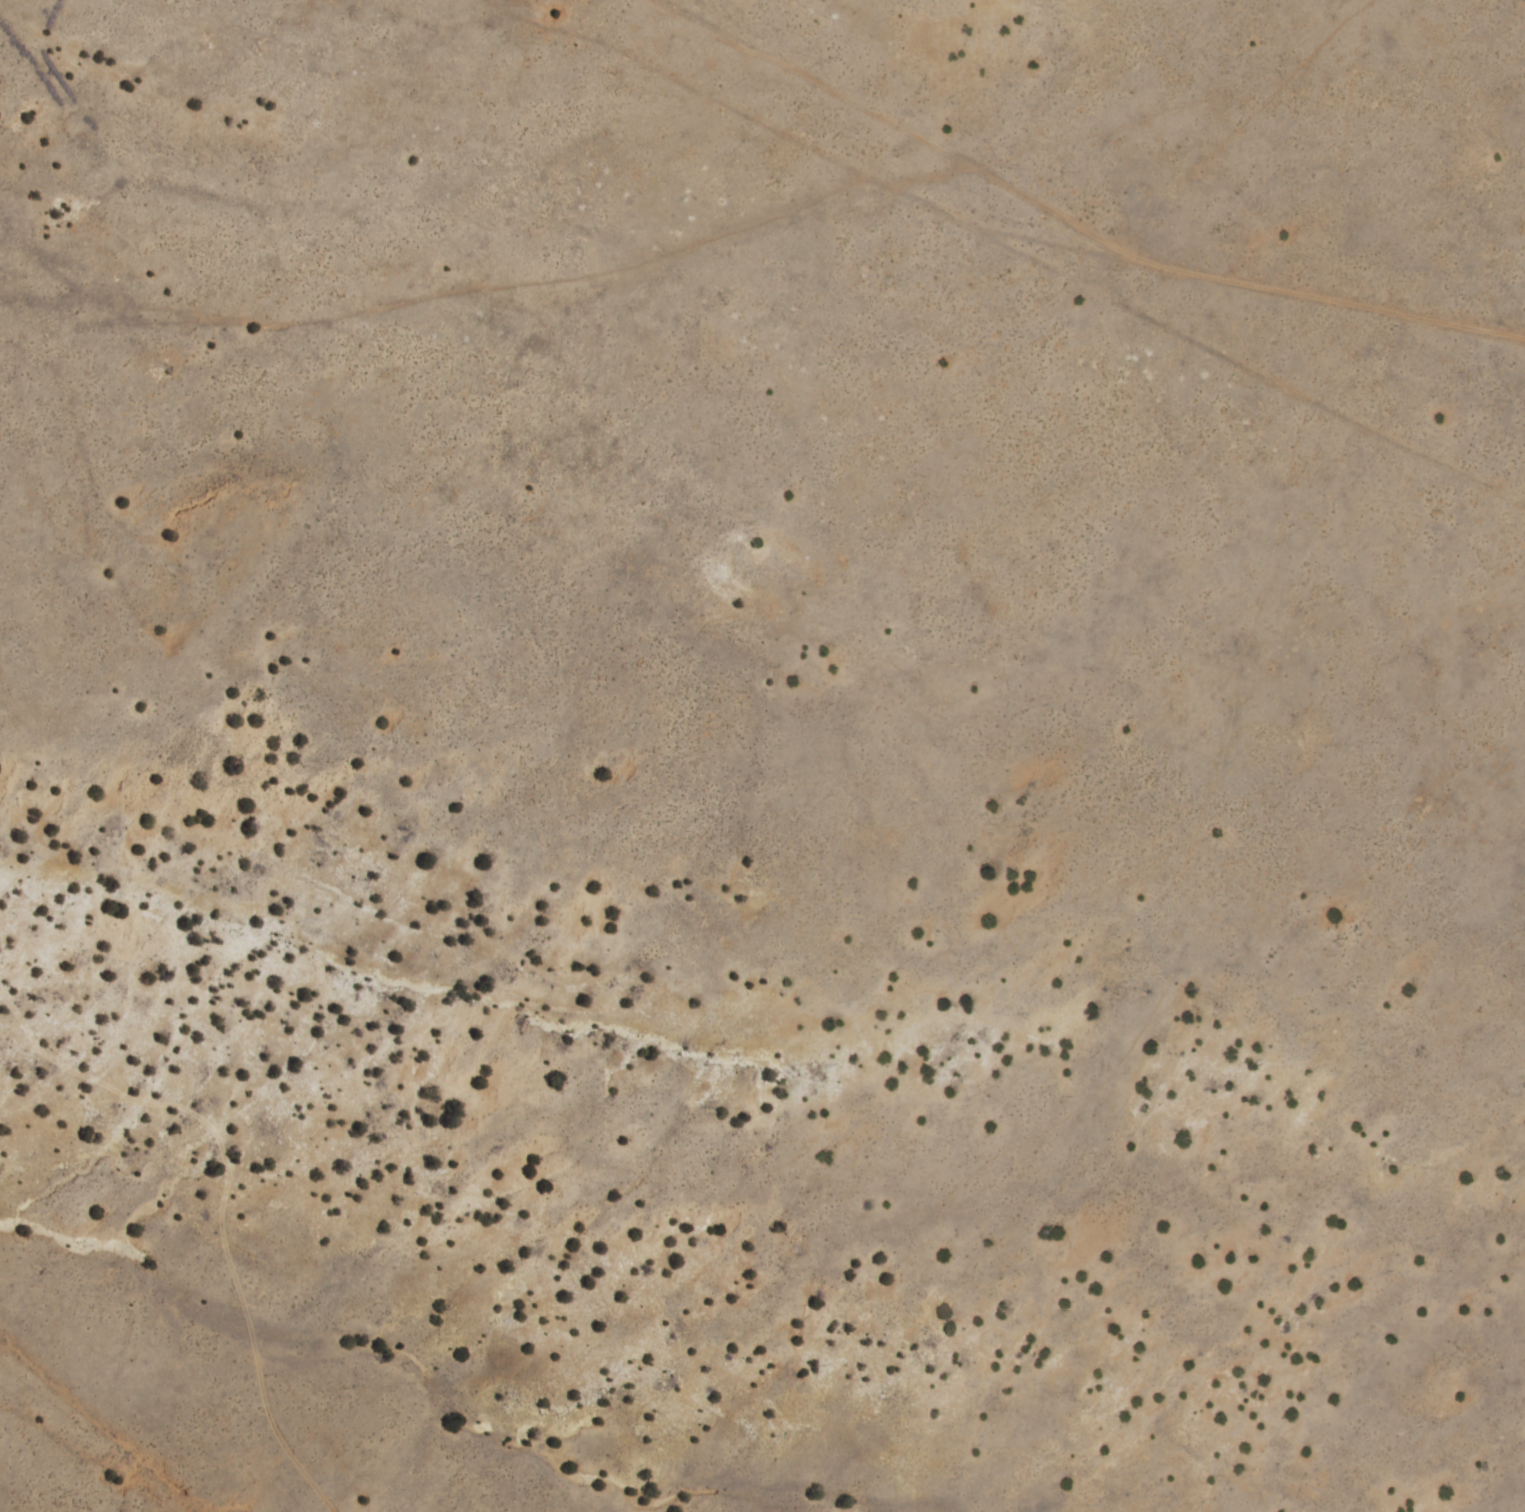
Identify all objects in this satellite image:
road: (117, 1402)

